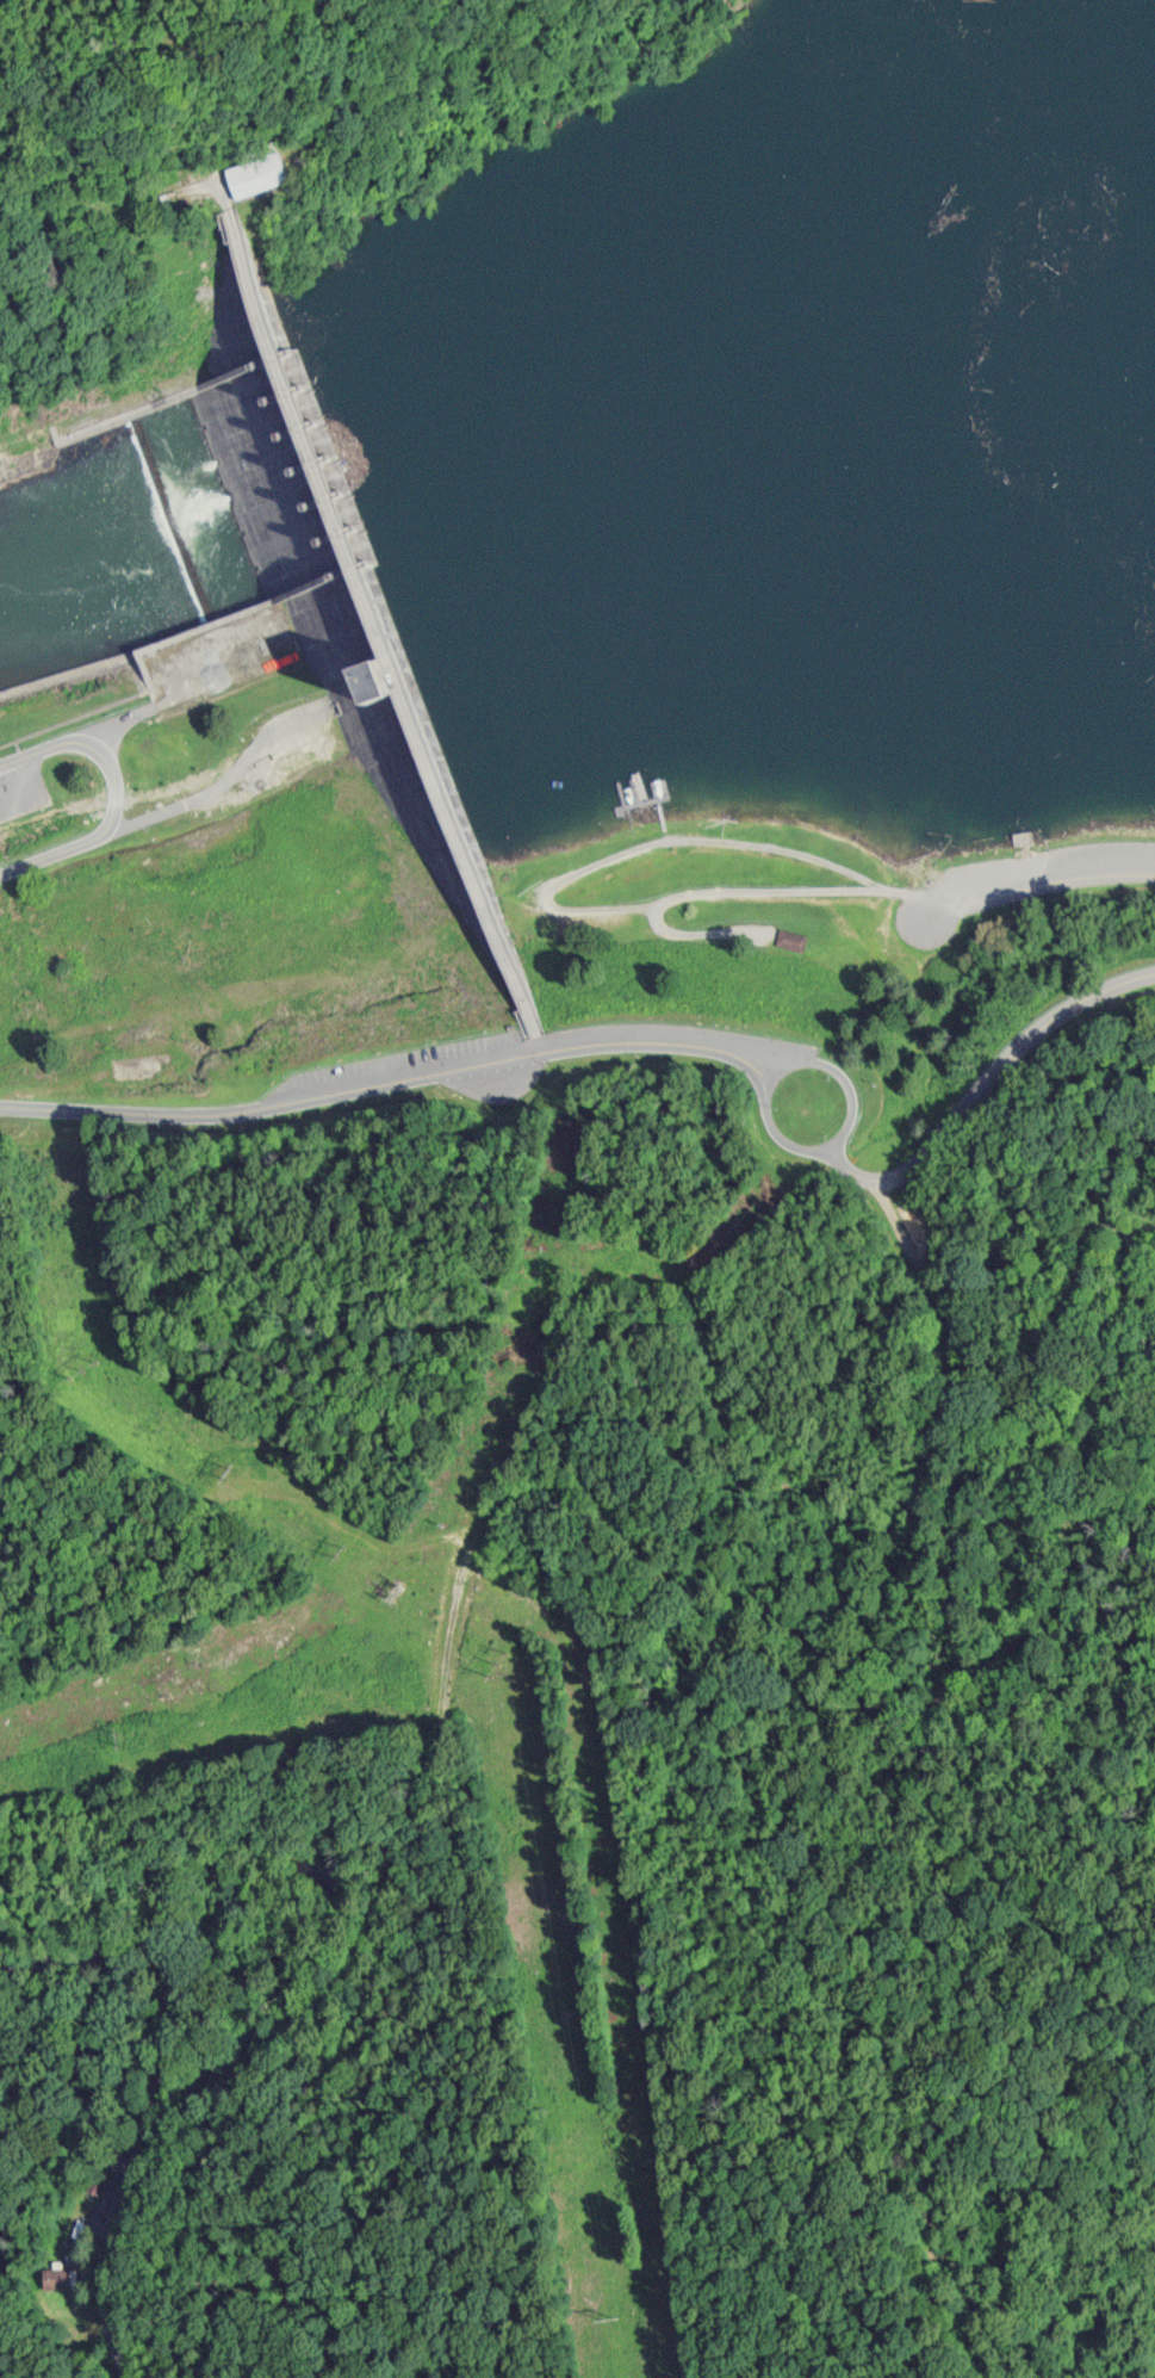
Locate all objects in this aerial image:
building: (244, 172)
river: (715, 322)
road: (20, 428)
river: (142, 515)
dam: (347, 618)
road: (94, 662)
road: (120, 718)
road: (89, 744)
road: (228, 779)
road: (33, 784)
parking lot: (23, 787)
road: (52, 850)
road: (1055, 878)
road: (903, 922)
road: (672, 1047)
road: (842, 1083)
road: (1004, 1261)
road: (516, 1532)
road: (920, 2006)
road: (106, 2122)
road: (803, 2176)
building: (55, 2275)

